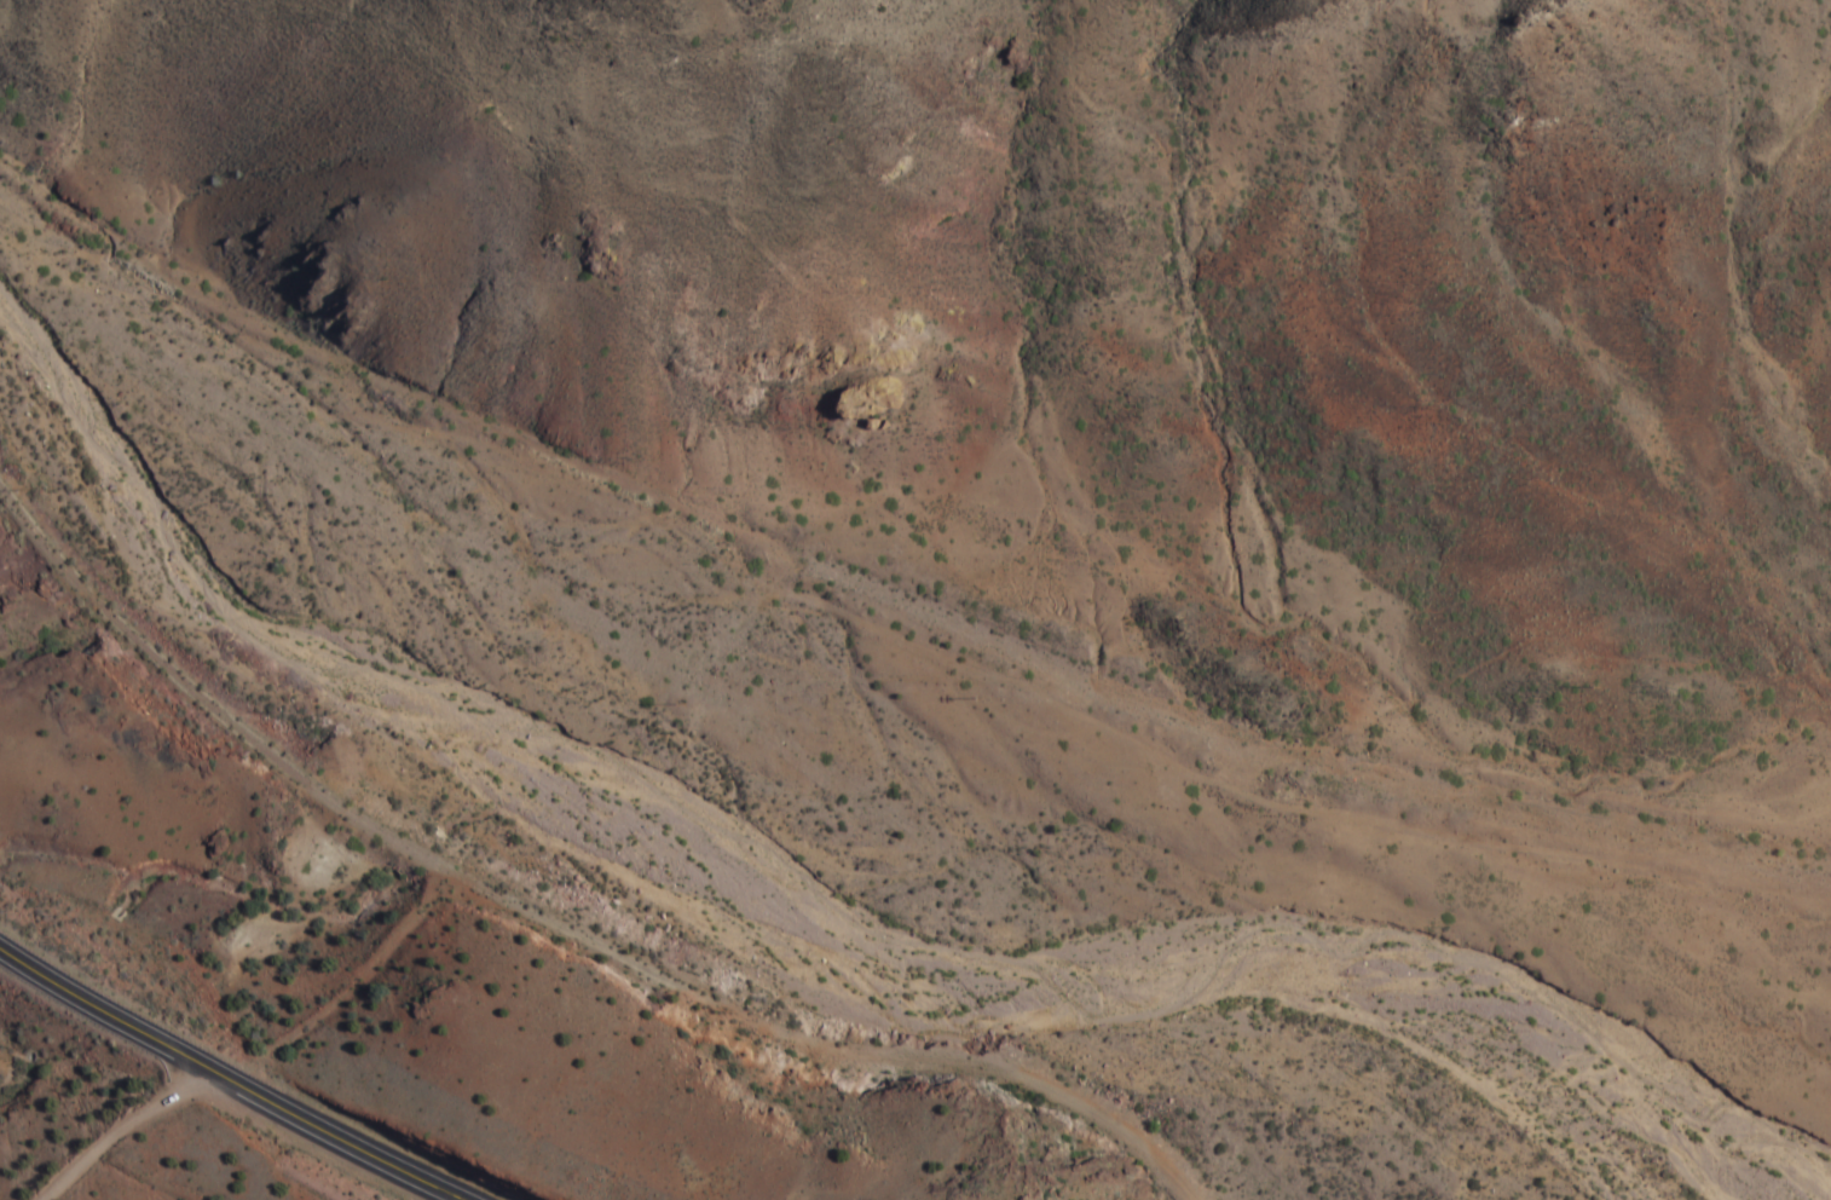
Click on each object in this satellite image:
road: (215, 1075)
road: (121, 1129)

